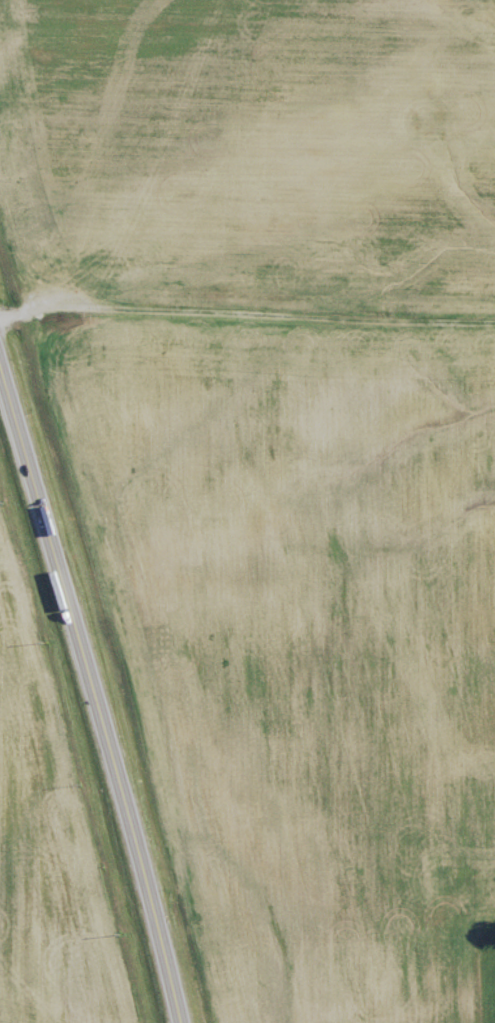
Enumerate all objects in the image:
road: (95, 684)
park: (457, 944)
road: (174, 980)

